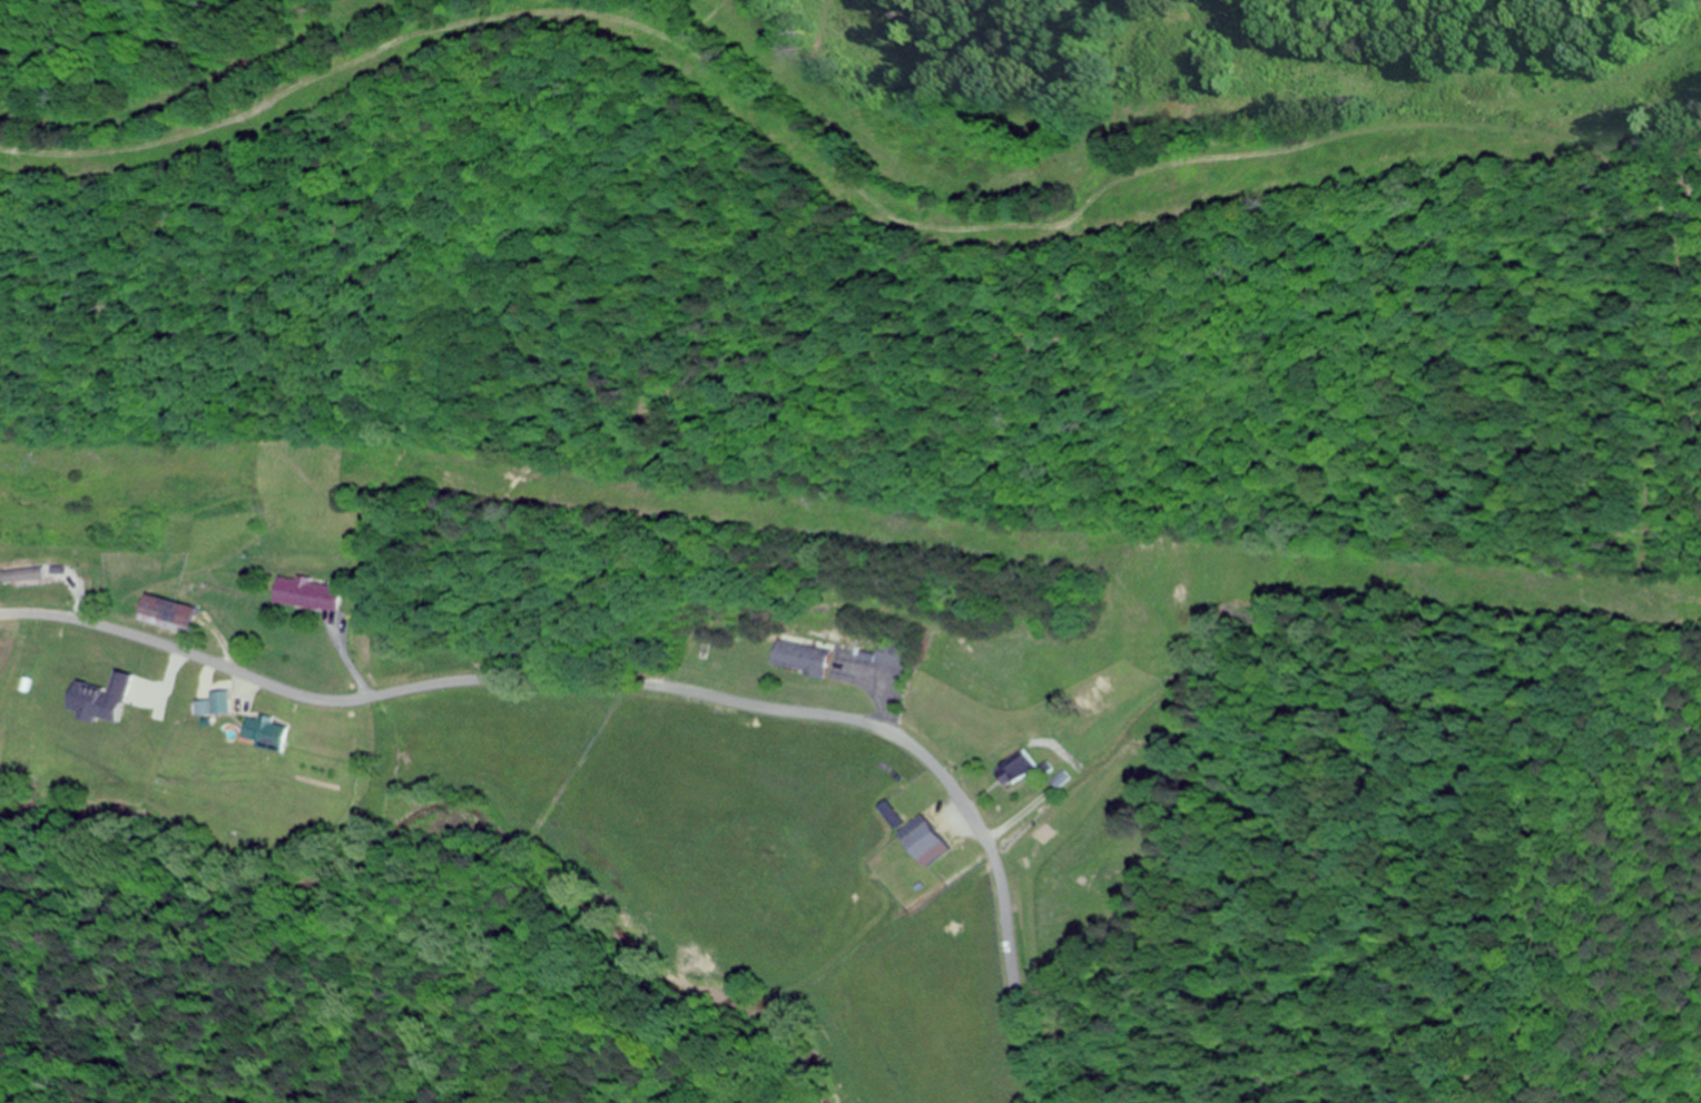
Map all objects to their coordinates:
building: (21, 575)
building: (309, 595)
building: (168, 614)
building: (803, 659)
building: (893, 660)
road: (645, 687)
building: (1015, 769)
building: (925, 841)

